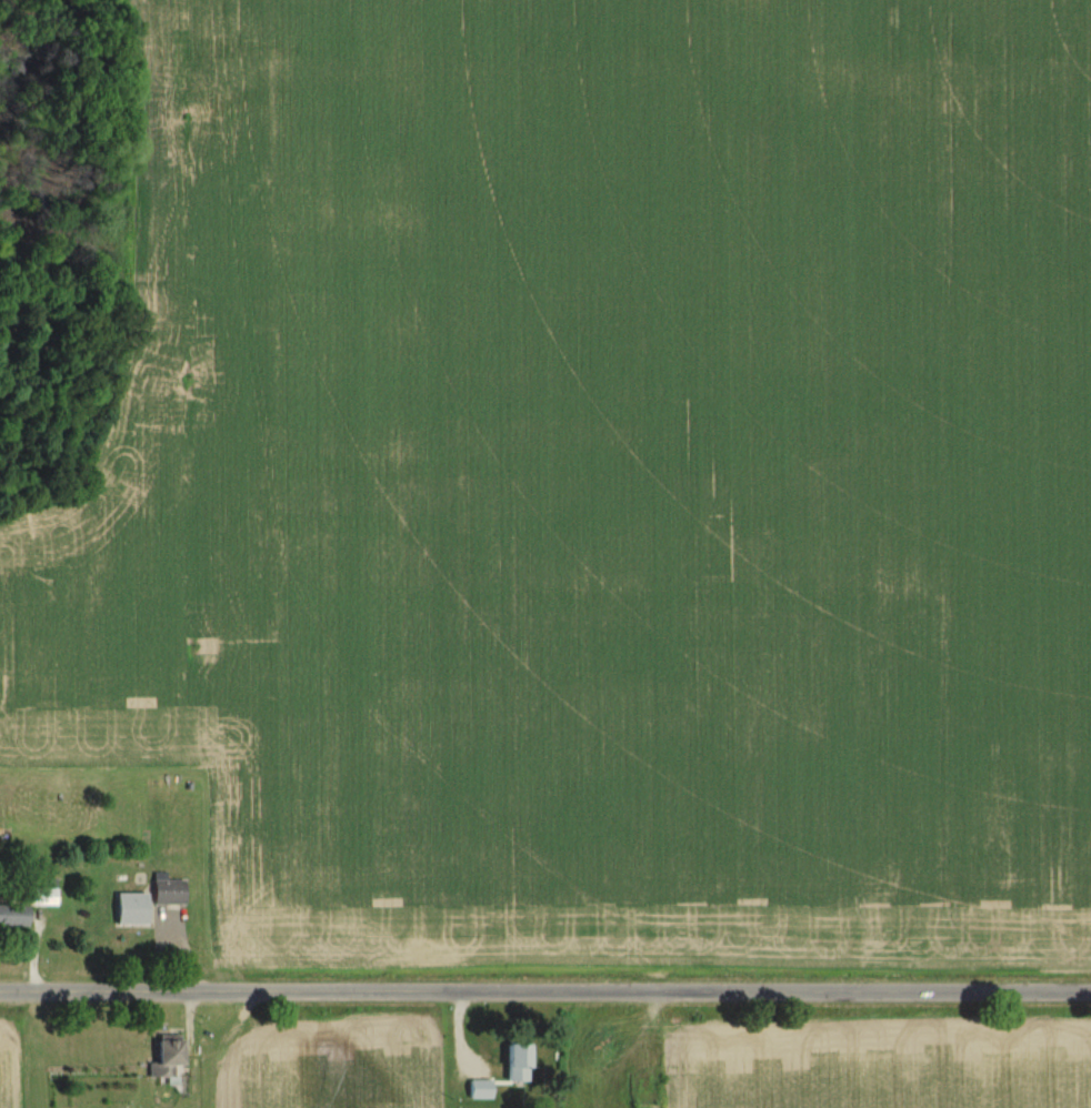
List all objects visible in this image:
building: (42, 892)
building: (168, 892)
building: (13, 915)
road: (544, 1020)
building: (166, 1058)
building: (517, 1062)

